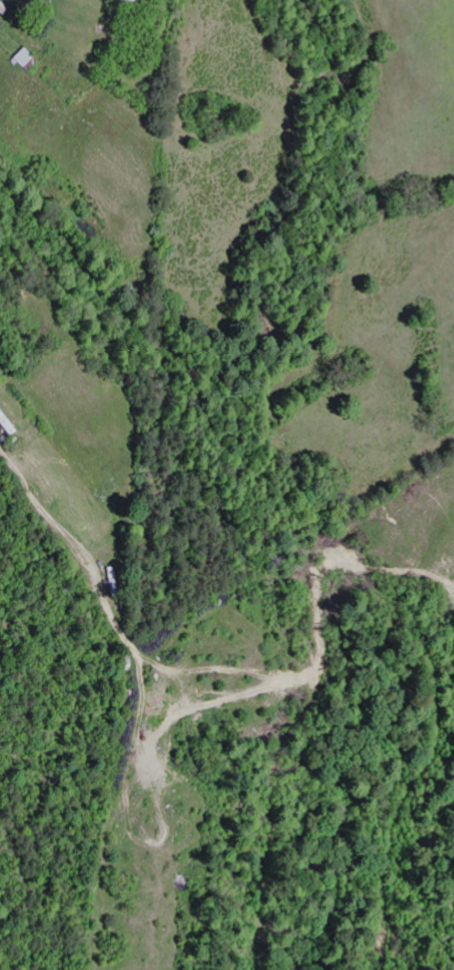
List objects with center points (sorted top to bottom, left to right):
building: (29, 57)

